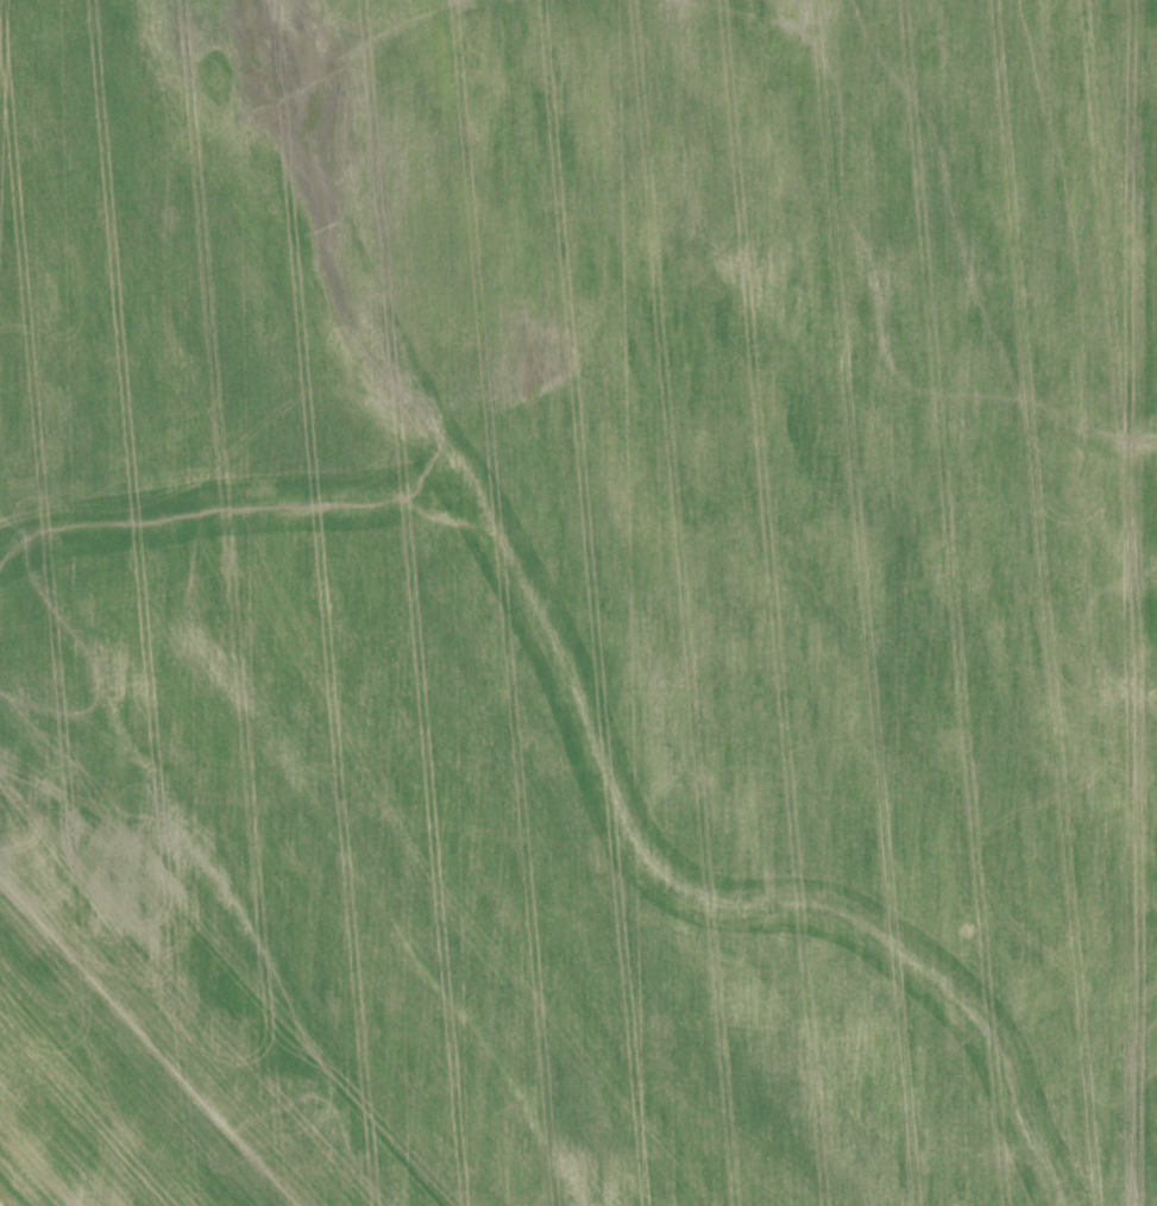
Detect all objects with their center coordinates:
road: (0, 1205)

